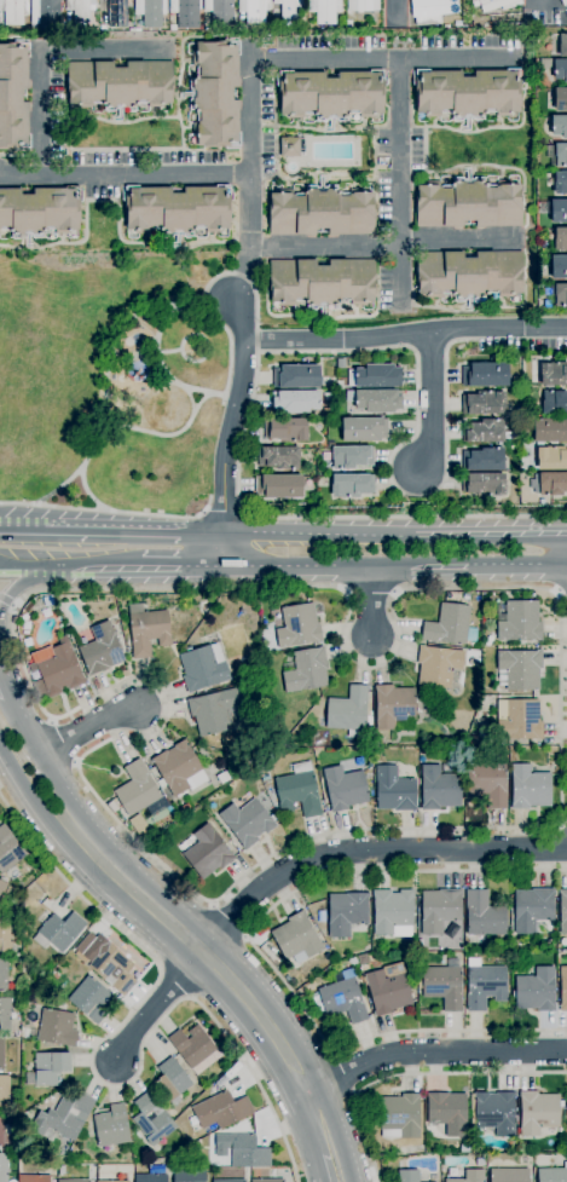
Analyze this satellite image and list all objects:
building: (563, 2)
building: (496, 4)
building: (363, 5)
building: (289, 8)
building: (80, 10)
building: (254, 10)
building: (324, 10)
building: (15, 11)
building: (116, 11)
building: (220, 11)
building: (432, 11)
building: (151, 12)
building: (185, 12)
road: (397, 12)
building: (46, 13)
building: (0, 16)
building: (566, 30)
building: (563, 45)
road: (44, 50)
road: (384, 60)
building: (560, 69)
building: (118, 85)
building: (330, 93)
building: (467, 93)
building: (215, 94)
building: (13, 96)
building: (560, 99)
building: (559, 126)
building: (289, 148)
building: (557, 155)
road: (125, 175)
road: (250, 183)
building: (560, 183)
road: (400, 184)
building: (469, 203)
building: (177, 209)
building: (39, 211)
building: (557, 211)
building: (322, 212)
building: (561, 238)
road: (383, 244)
building: (559, 267)
building: (468, 275)
building: (322, 282)
building: (559, 294)
road: (405, 334)
road: (156, 356)
building: (554, 374)
building: (485, 375)
building: (296, 376)
building: (375, 376)
park: (109, 381)
building: (339, 385)
road: (225, 396)
road: (233, 398)
road: (201, 400)
building: (375, 400)
road: (432, 400)
building: (295, 402)
building: (554, 402)
building: (482, 403)
building: (328, 413)
road: (236, 414)
road: (111, 428)
building: (285, 429)
building: (364, 429)
building: (482, 431)
building: (549, 431)
building: (330, 444)
road: (404, 444)
building: (351, 456)
building: (278, 457)
building: (551, 457)
building: (482, 460)
road: (238, 468)
building: (482, 484)
building: (550, 484)
building: (351, 485)
building: (279, 486)
road: (88, 494)
building: (542, 502)
road: (109, 511)
road: (225, 512)
road: (89, 527)
road: (202, 530)
road: (319, 534)
road: (491, 536)
road: (225, 548)
road: (517, 564)
road: (420, 565)
road: (183, 566)
road: (299, 566)
road: (70, 567)
road: (22, 586)
road: (287, 588)
road: (561, 594)
building: (467, 596)
road: (371, 601)
building: (520, 622)
building: (447, 624)
building: (296, 625)
building: (147, 629)
building: (100, 650)
building: (438, 667)
building: (203, 668)
building: (519, 669)
building: (58, 671)
building: (306, 671)
road: (1, 692)
building: (393, 707)
building: (216, 711)
building: (348, 711)
building: (519, 719)
road: (85, 726)
road: (37, 761)
building: (179, 768)
building: (222, 777)
building: (486, 784)
road: (29, 785)
building: (345, 788)
building: (528, 788)
building: (439, 789)
building: (299, 790)
building: (394, 790)
building: (140, 798)
building: (112, 806)
building: (185, 807)
building: (179, 812)
building: (247, 821)
road: (562, 824)
road: (365, 848)
building: (8, 849)
building: (204, 852)
building: (2, 888)
building: (11, 892)
building: (532, 909)
building: (439, 910)
building: (562, 911)
building: (346, 912)
building: (392, 912)
building: (322, 915)
building: (484, 915)
road: (230, 919)
building: (59, 932)
building: (5, 935)
building: (296, 938)
road: (262, 951)
road: (202, 952)
building: (361, 961)
building: (112, 969)
building: (2, 975)
building: (52, 979)
building: (441, 986)
building: (485, 986)
building: (562, 988)
building: (536, 990)
building: (387, 991)
building: (91, 999)
building: (343, 999)
road: (155, 1007)
building: (5, 1014)
building: (54, 1028)
building: (192, 1045)
road: (434, 1051)
building: (1, 1053)
building: (50, 1068)
road: (93, 1072)
road: (345, 1073)
road: (413, 1073)
building: (29, 1079)
building: (170, 1080)
building: (5, 1092)
building: (221, 1111)
building: (566, 1111)
building: (449, 1112)
building: (538, 1112)
building: (494, 1113)
building: (399, 1117)
building: (63, 1118)
building: (152, 1119)
building: (12, 1120)
road: (322, 1122)
building: (111, 1126)
building: (2, 1132)
building: (242, 1151)
road: (335, 1164)
building: (2, 1167)
building: (60, 1170)
building: (509, 1175)
building: (552, 1175)
building: (189, 1176)
building: (407, 1176)
building: (469, 1176)
building: (33, 1178)
building: (150, 1178)
building: (73, 1180)
building: (266, 1180)
building: (117, 1181)
building: (227, 1181)

